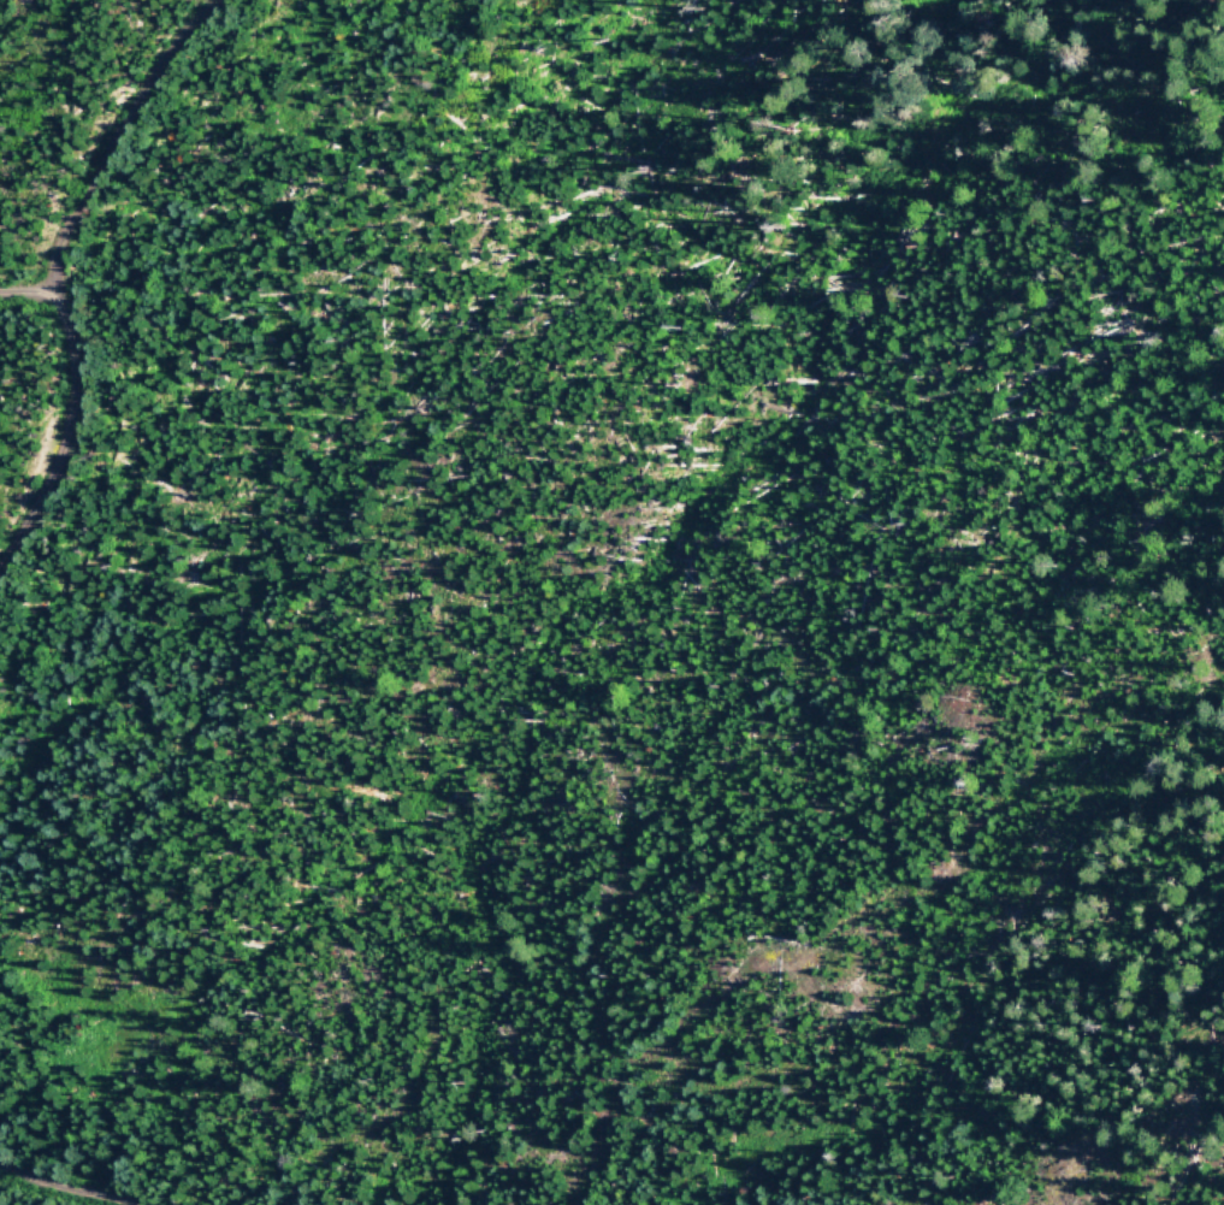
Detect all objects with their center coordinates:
road: (63, 265)
road: (29, 291)
road: (46, 1188)

